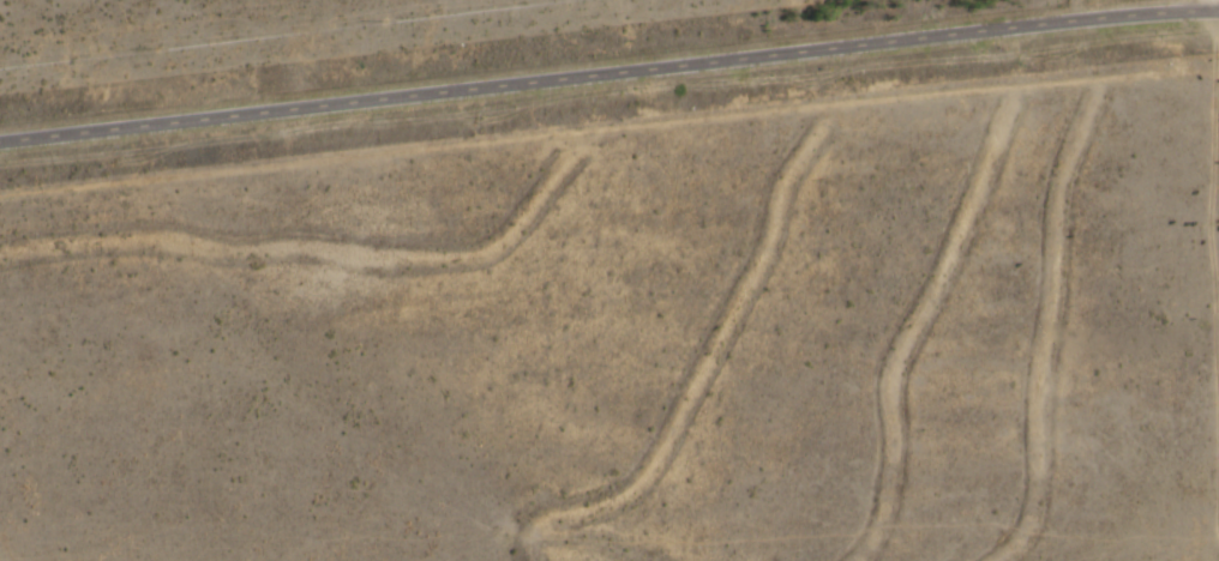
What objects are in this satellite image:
road: (1208, 7)
road: (608, 80)

